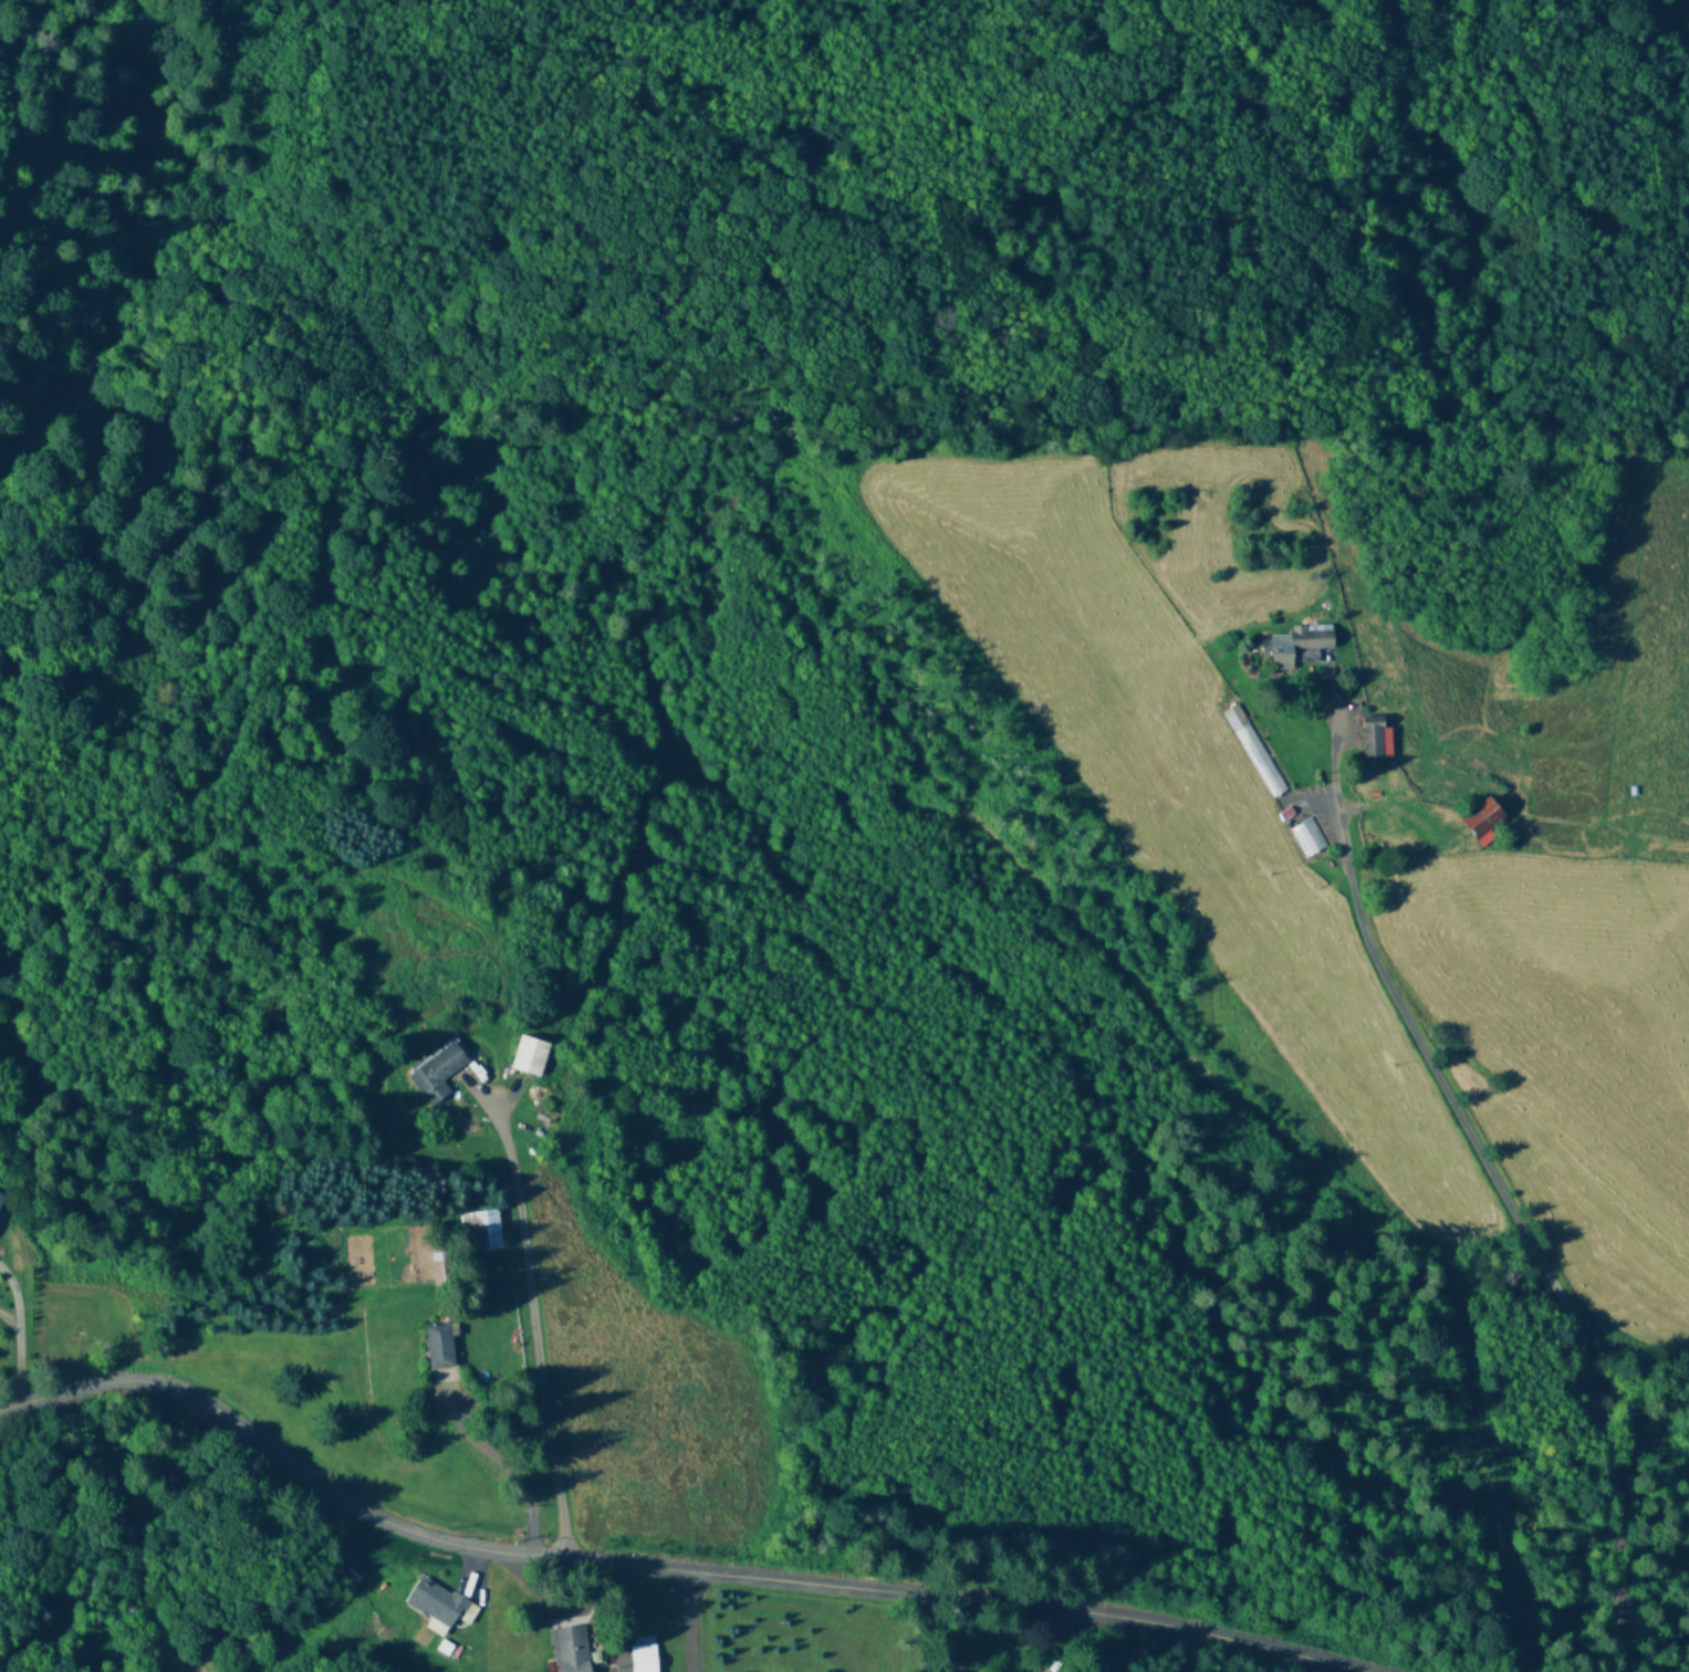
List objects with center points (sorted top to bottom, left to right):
building: (1299, 648)
building: (1374, 738)
building: (1261, 762)
building: (1483, 821)
building: (530, 1057)
building: (438, 1072)
building: (480, 1231)
road: (15, 1296)
road: (520, 1308)
road: (10, 1320)
building: (439, 1346)
road: (20, 1367)
road: (676, 1567)
building: (438, 1606)
building: (570, 1649)
building: (644, 1658)

